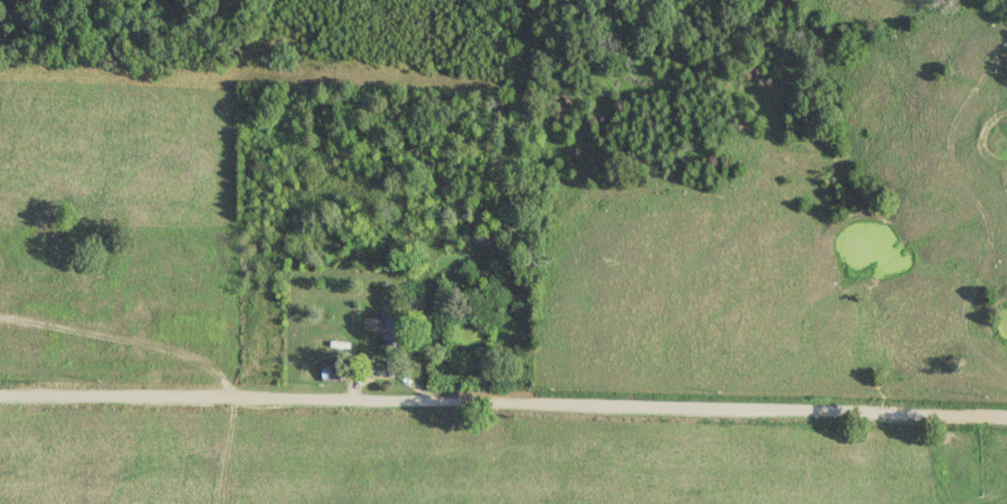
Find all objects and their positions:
road: (503, 408)

